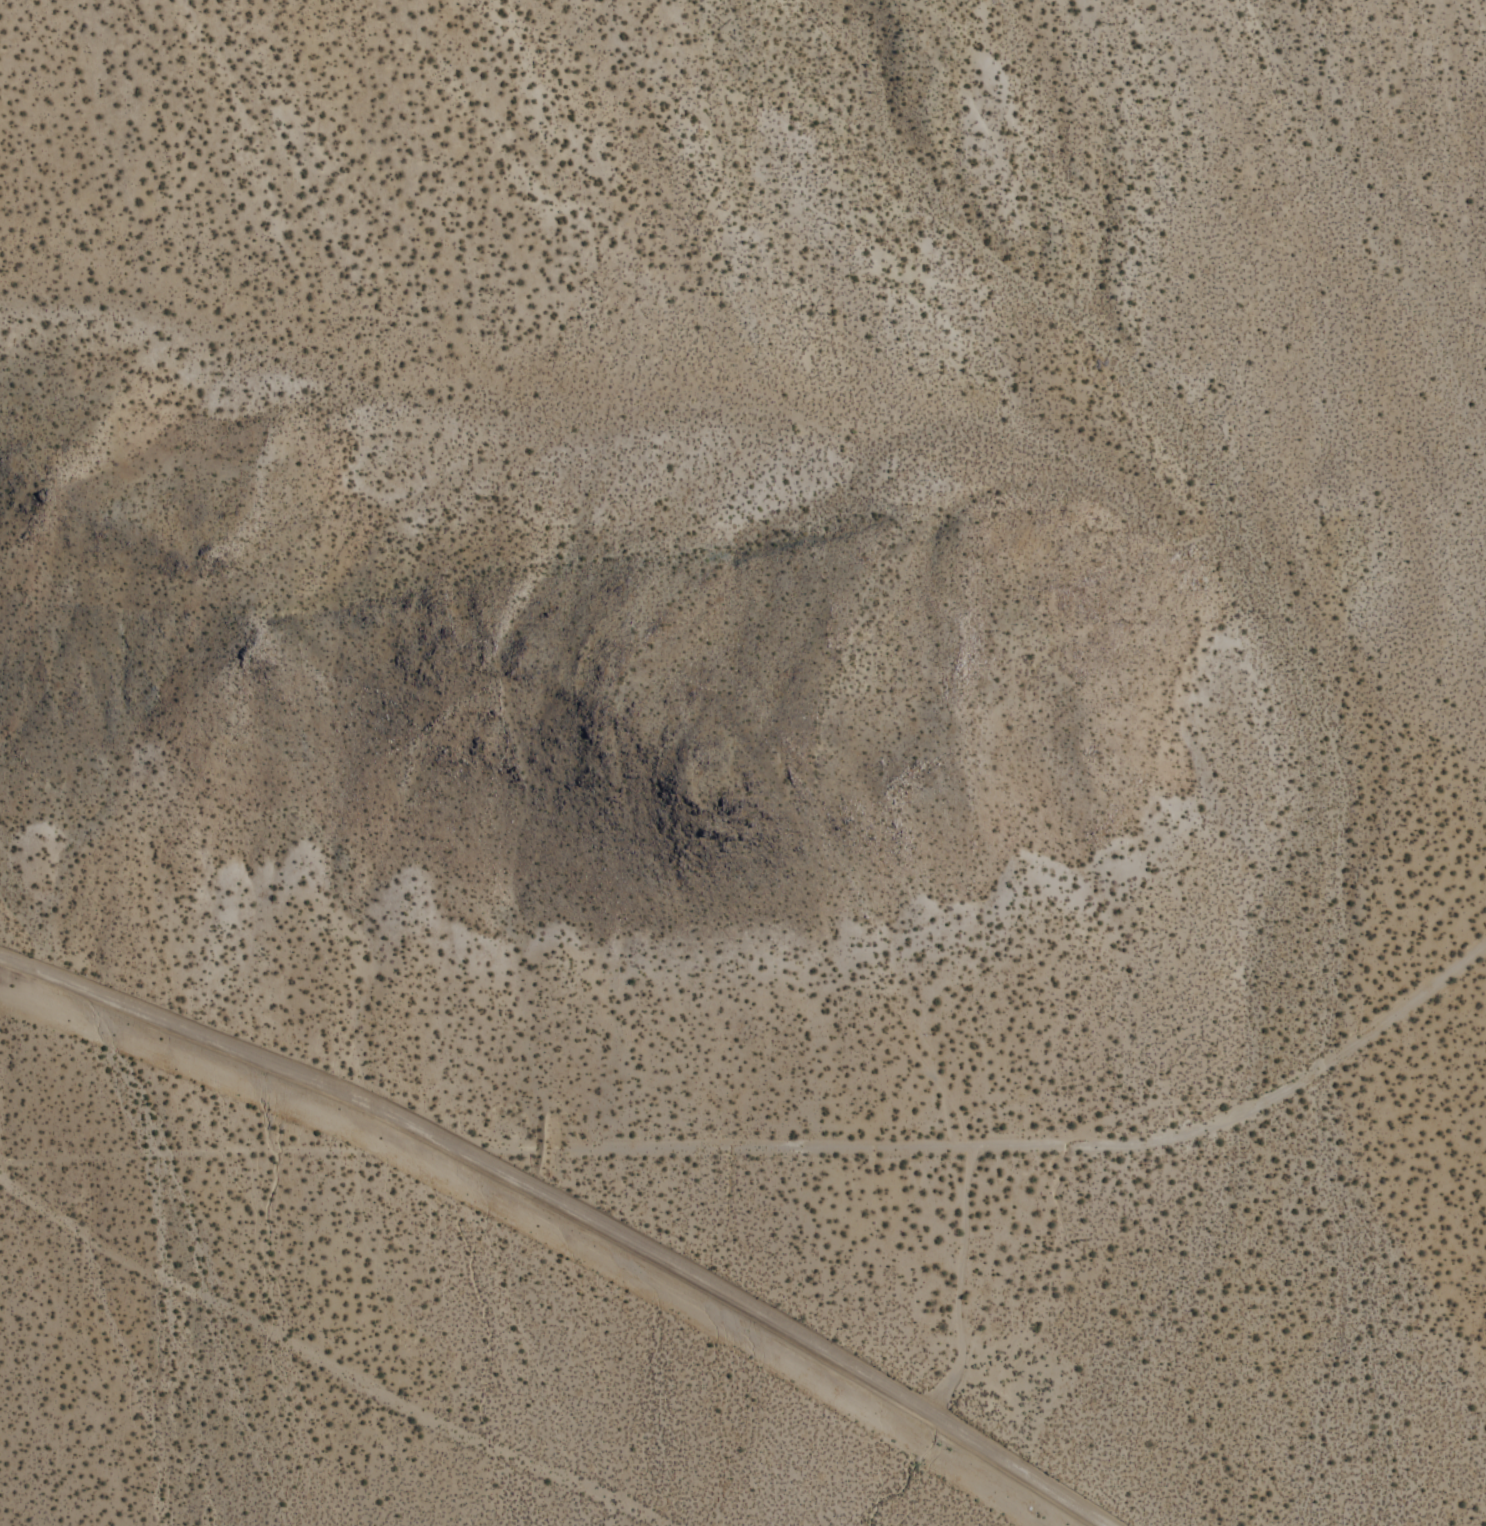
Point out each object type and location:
road: (573, 1204)

